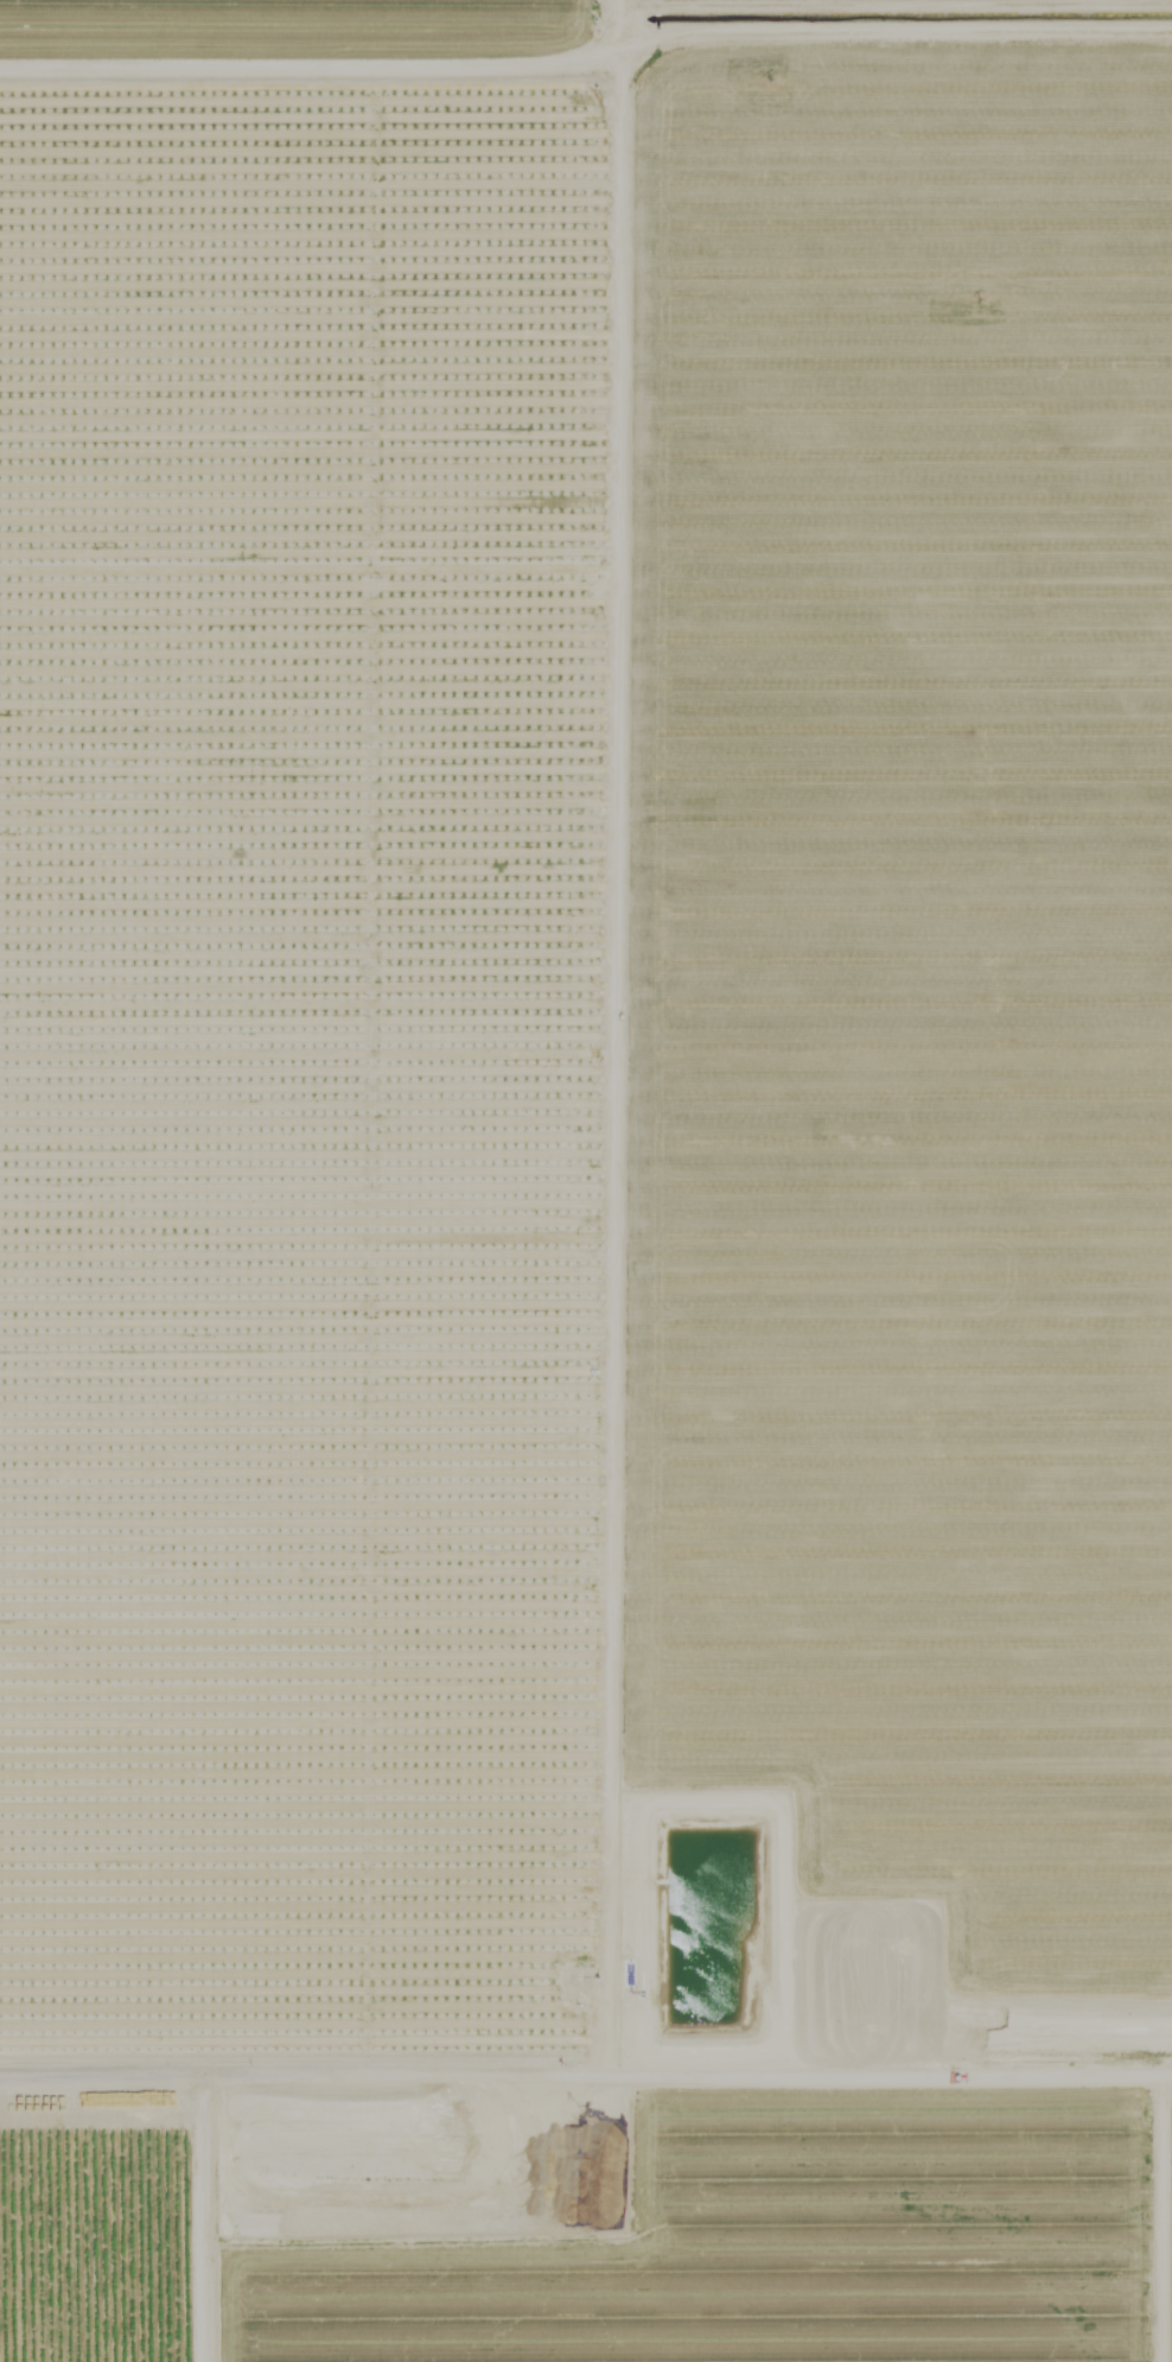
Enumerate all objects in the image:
road: (585, 2081)

